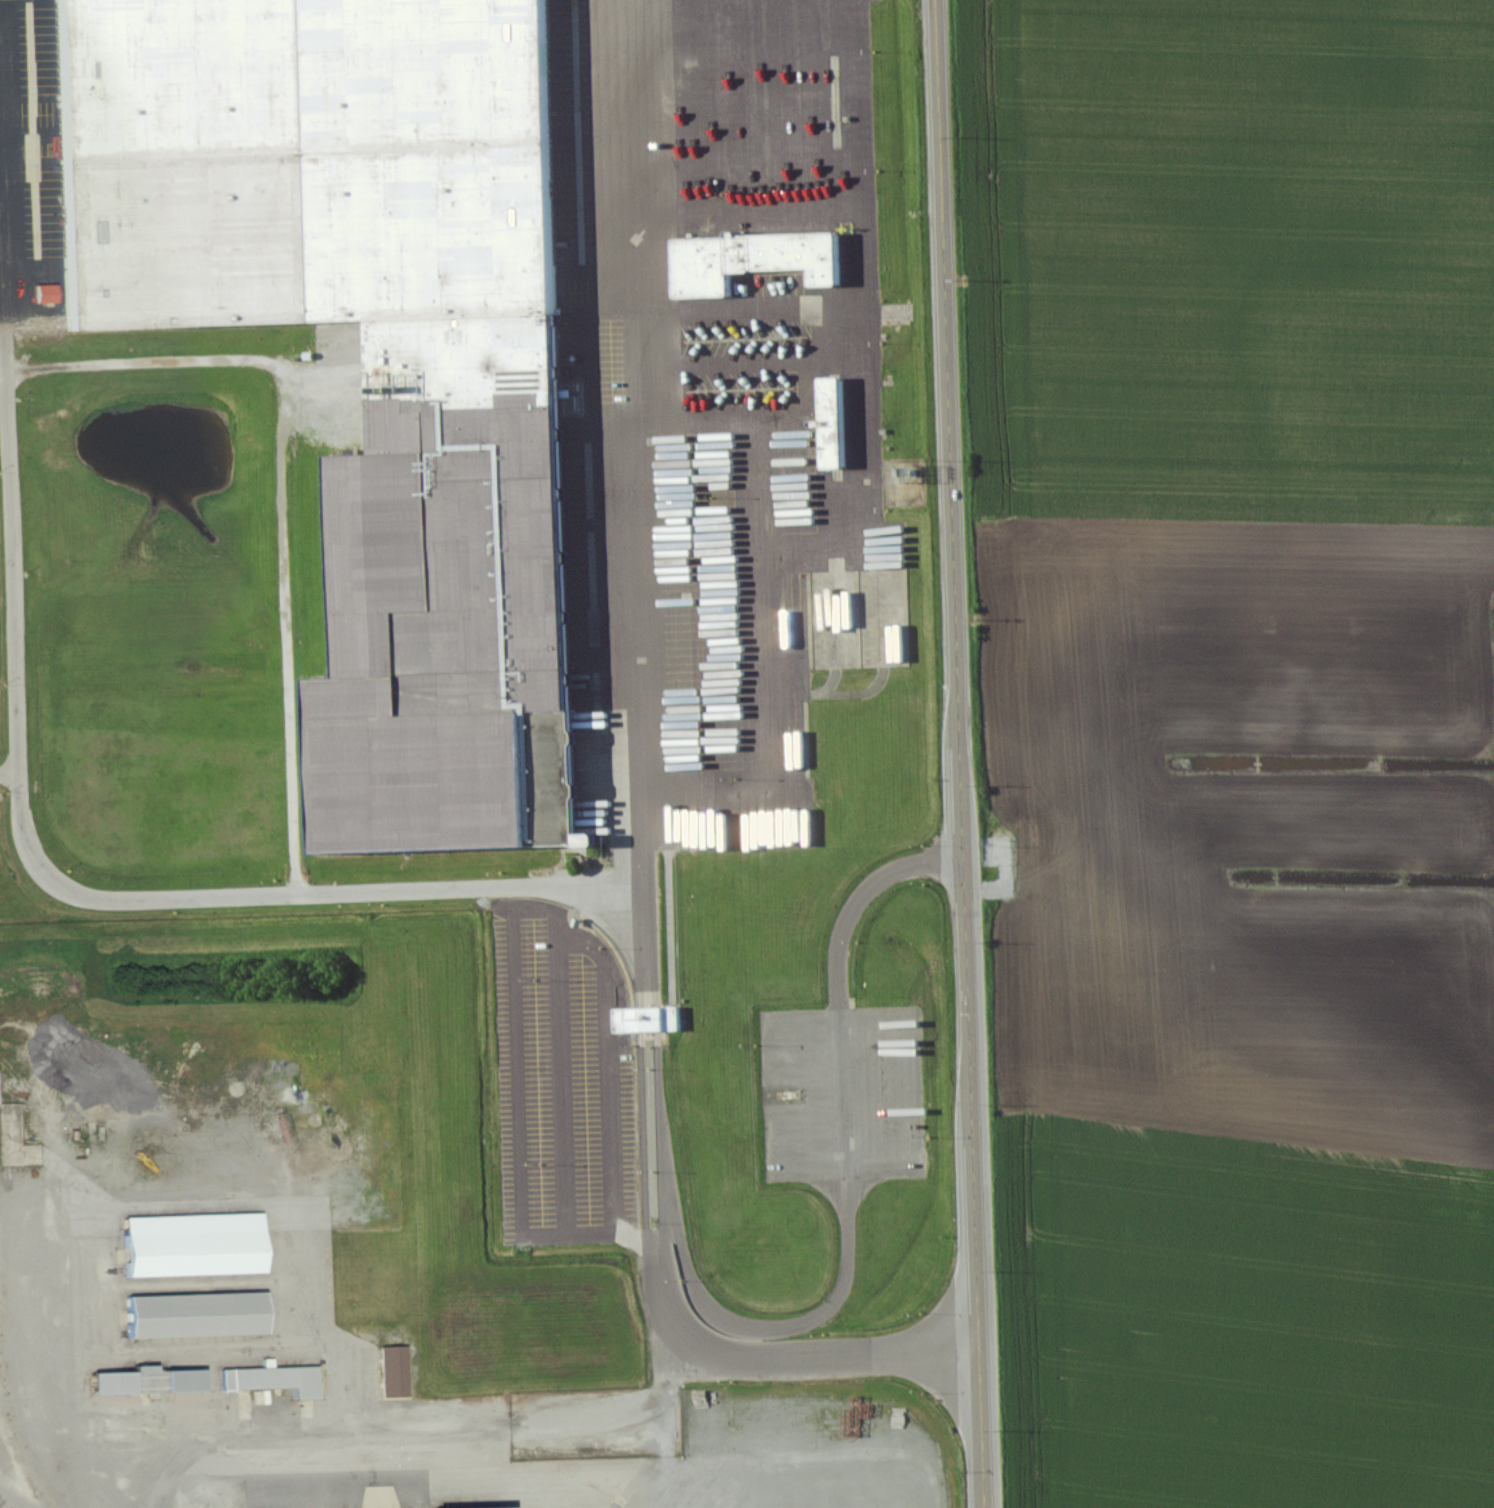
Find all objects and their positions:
building: (758, 260)
railway: (162, 317)
building: (429, 333)
building: (833, 452)
road: (628, 464)
road: (282, 487)
road: (961, 753)
road: (67, 889)
road: (512, 961)
road: (648, 1018)
building: (651, 1021)
road: (656, 1118)
road: (844, 1162)
road: (658, 1222)
building: (199, 1245)
building: (202, 1314)
road: (778, 1357)
building: (396, 1372)
building: (277, 1380)
building: (118, 1381)
road: (488, 1429)

